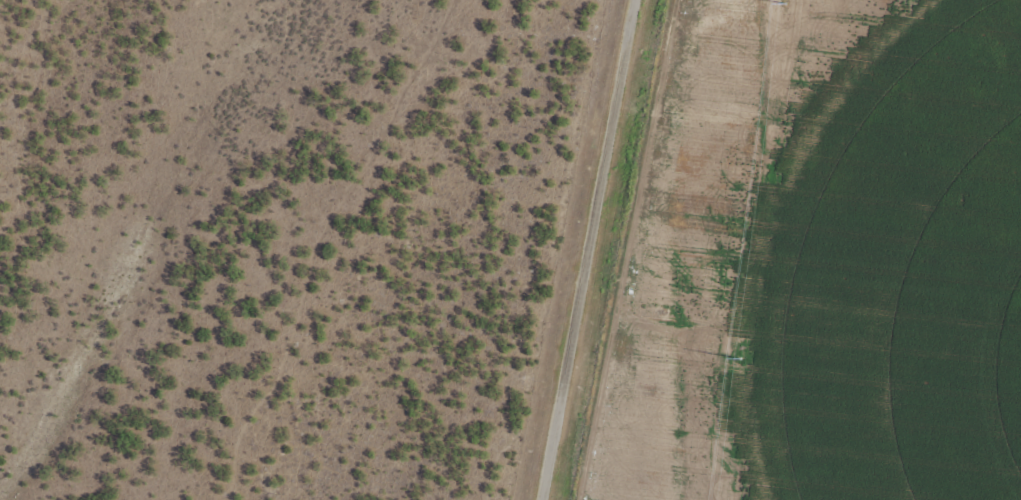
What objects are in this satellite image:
power tower: (784, 10)
road: (577, 250)
park: (660, 312)
power tower: (739, 364)

